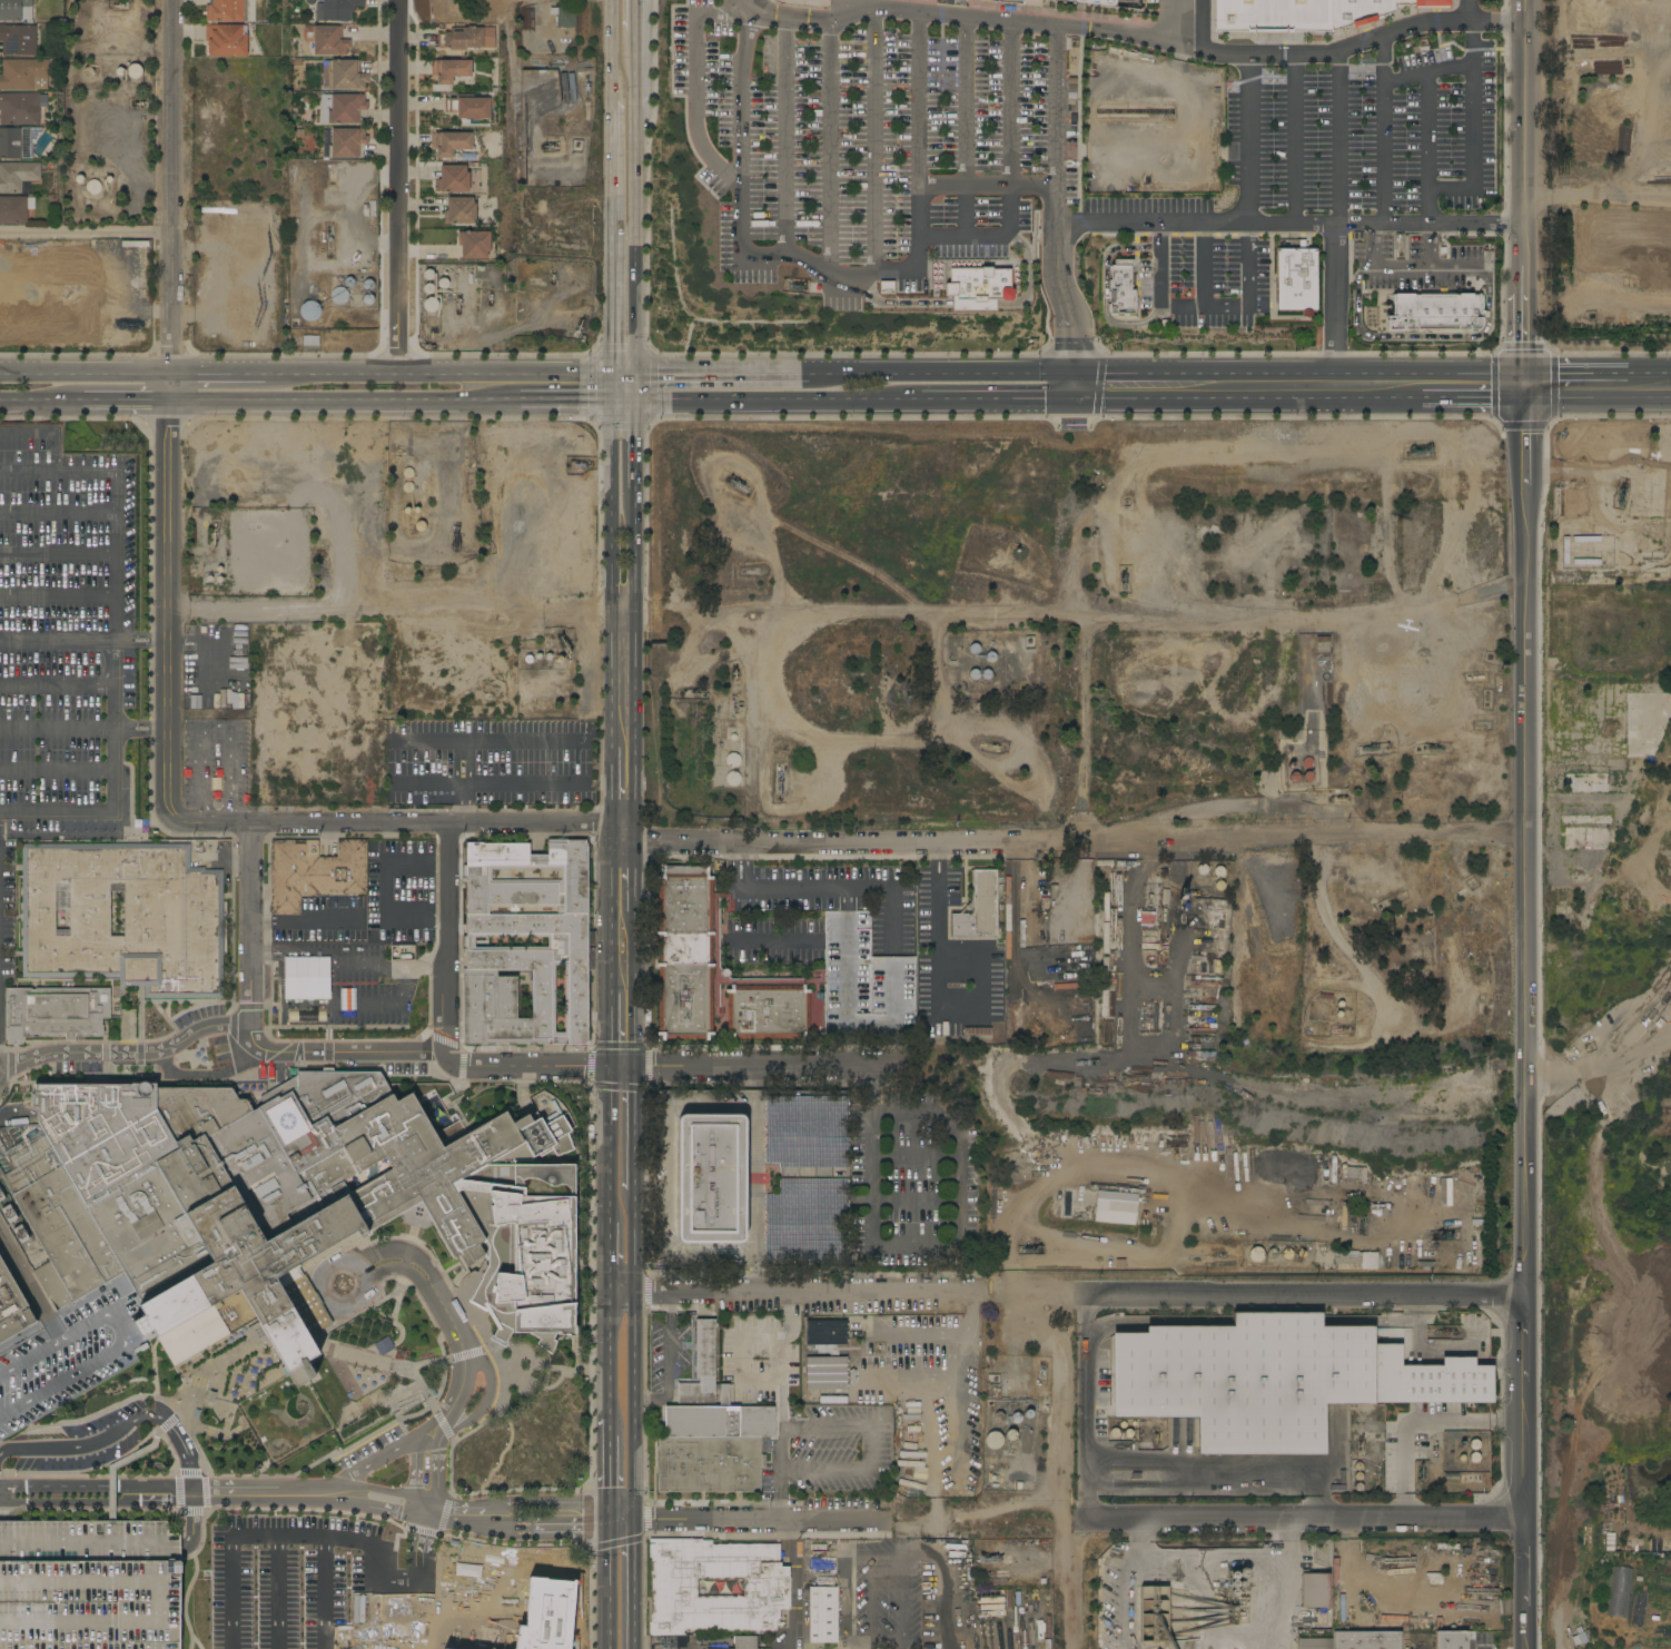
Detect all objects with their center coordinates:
building: (820, 0)
building: (1007, 1)
building: (1421, 3)
building: (1103, 4)
petroleum well: (121, 7)
building: (336, 9)
building: (16, 10)
building: (225, 10)
building: (250, 10)
building: (1357, 12)
road: (635, 16)
building: (1272, 16)
building: (565, 17)
building: (527, 19)
road: (1164, 21)
road: (1128, 36)
building: (466, 38)
building: (18, 40)
building: (227, 40)
building: (326, 40)
road: (612, 48)
building: (298, 62)
road: (635, 63)
building: (449, 70)
building: (135, 71)
storage tank: (135, 71)
building: (24, 75)
building: (343, 75)
road: (1428, 76)
petroleum well: (140, 105)
road: (744, 105)
building: (468, 107)
building: (343, 108)
building: (20, 109)
road: (1470, 115)
road: (920, 126)
road: (1057, 126)
building: (1148, 127)
road: (966, 128)
road: (785, 129)
parking lot: (1375, 130)
road: (1386, 132)
parking lot: (871, 140)
road: (876, 140)
road: (1341, 140)
road: (1296, 141)
building: (18, 142)
building: (347, 142)
building: (449, 142)
road: (1248, 142)
petroleum well: (552, 147)
road: (1427, 151)
road: (830, 156)
building: (1578, 160)
building: (1598, 160)
road: (635, 164)
building: (18, 175)
building: (453, 178)
building: (477, 178)
road: (988, 185)
building: (95, 186)
storage tank: (95, 186)
road: (1526, 186)
road: (171, 187)
road: (397, 187)
road: (1598, 197)
building: (31, 204)
building: (369, 209)
building: (13, 210)
building: (461, 210)
road: (1291, 226)
road: (86, 233)
road: (612, 235)
petroleum well: (329, 243)
building: (474, 244)
parking lot: (1426, 260)
road: (1456, 264)
road: (1205, 266)
road: (1402, 266)
petroleum well: (552, 277)
building: (1297, 279)
parking lot: (1215, 282)
road: (859, 287)
building: (887, 287)
road: (1247, 287)
building: (978, 288)
building: (1123, 288)
road: (1159, 289)
road: (1107, 293)
building: (339, 296)
storage tank: (339, 296)
road: (870, 296)
petroleum well: (490, 298)
road: (1336, 299)
road: (636, 303)
building: (429, 304)
storage tank: (429, 304)
petroleum well: (458, 305)
road: (991, 305)
building: (56, 306)
building: (309, 310)
storage tank: (309, 310)
road: (1067, 313)
building: (1436, 313)
petroleum well: (580, 328)
road: (1415, 337)
traffic signals: (1525, 372)
road: (1598, 373)
road: (437, 374)
traffic signals: (611, 374)
road: (623, 374)
traffic signals: (636, 374)
road: (681, 374)
road: (1170, 374)
road: (85, 375)
road: (217, 375)
road: (771, 375)
traffic signals: (1074, 375)
road: (1525, 386)
road: (611, 389)
road: (636, 389)
road: (31, 402)
road: (1299, 402)
traffic signals: (1525, 402)
road: (1598, 402)
road: (115, 403)
road: (998, 403)
traffic signals: (1075, 403)
road: (344, 404)
road: (779, 404)
road: (566, 405)
traffic signals: (612, 405)
road: (624, 405)
traffic signals: (636, 405)
road: (47, 434)
petroleum well: (1420, 447)
road: (636, 453)
petroleum well: (565, 466)
petroleum well: (743, 487)
petroleum well: (1620, 501)
road: (56, 517)
building: (1216, 520)
petroleum well: (217, 532)
petroleum well: (458, 541)
road: (56, 556)
petroleum well: (750, 573)
road: (613, 575)
petroleum well: (1124, 575)
road: (166, 593)
road: (56, 598)
road: (849, 615)
road: (112, 621)
parking lot: (69, 636)
road: (62, 640)
road: (127, 640)
building: (1323, 644)
petroleum well: (567, 648)
road: (635, 670)
road: (1081, 673)
petroleum well: (736, 675)
road: (56, 685)
petroleum well: (690, 708)
road: (215, 725)
road: (63, 728)
road: (127, 728)
road: (488, 743)
petroleum well: (992, 748)
petroleum well: (1438, 749)
building: (732, 760)
parking lot: (215, 764)
parking lot: (490, 766)
building: (733, 778)
road: (472, 783)
road: (487, 786)
road: (611, 786)
petroleum well: (781, 786)
road: (76, 811)
road: (404, 824)
road: (1304, 837)
road: (858, 840)
road: (931, 860)
road: (943, 860)
building: (1105, 863)
building: (1126, 865)
road: (729, 866)
road: (749, 866)
building: (314, 872)
road: (635, 877)
building: (1045, 881)
road: (843, 887)
building: (1103, 890)
building: (1044, 891)
building: (1054, 892)
petroleum well: (1193, 892)
building: (1165, 897)
building: (1045, 904)
road: (609, 908)
building: (978, 908)
building: (1024, 915)
building: (125, 917)
building: (1009, 919)
road: (308, 924)
road: (254, 925)
building: (1037, 927)
building: (1225, 928)
road: (451, 938)
building: (572, 942)
building: (1040, 945)
parking lot: (360, 948)
building: (402, 952)
building: (685, 952)
building: (1198, 958)
road: (937, 967)
building: (864, 980)
building: (1203, 984)
building: (1065, 986)
road: (635, 990)
building: (1203, 1008)
building: (768, 1011)
building: (56, 1013)
building: (144, 1021)
road: (1525, 1025)
building: (946, 1029)
road: (607, 1030)
building: (977, 1031)
building: (1202, 1031)
road: (291, 1053)
building: (1202, 1055)
road: (762, 1066)
building: (1059, 1075)
road: (4, 1082)
road: (866, 1089)
road: (876, 1090)
road: (691, 1107)
helipad: (287, 1122)
road: (634, 1128)
road: (609, 1146)
building: (1303, 1172)
building: (1334, 1172)
building: (1319, 1173)
building: (1353, 1173)
building: (711, 1178)
building: (1133, 1184)
building: (1087, 1187)
building: (1141, 1187)
building: (278, 1204)
building: (1116, 1208)
petroleum well: (1444, 1235)
road: (948, 1245)
petroleum well: (1031, 1250)
building: (1257, 1254)
storage tank: (1257, 1254)
building: (1273, 1254)
storage tank: (1273, 1254)
building: (1288, 1254)
storage tank: (1288, 1254)
building: (1302, 1254)
storage tank: (1302, 1254)
road: (609, 1258)
building: (1356, 1261)
building: (1395, 1261)
building: (1384, 1262)
building: (1425, 1265)
road: (322, 1277)
road: (432, 1287)
road: (795, 1293)
road: (1306, 1296)
building: (12, 1306)
building: (825, 1333)
petroleum well: (1453, 1336)
road: (963, 1344)
building: (385, 1345)
road: (635, 1353)
road: (781, 1356)
road: (738, 1357)
road: (453, 1359)
building: (952, 1360)
road: (668, 1361)
building: (825, 1363)
building: (61, 1364)
parking lot: (61, 1364)
road: (607, 1365)
building: (702, 1366)
road: (152, 1370)
building: (883, 1372)
petroleum well: (1044, 1378)
building: (1427, 1379)
building: (814, 1380)
building: (1245, 1380)
building: (881, 1385)
road: (425, 1390)
building: (831, 1390)
building: (330, 1391)
road: (147, 1396)
road: (1087, 1405)
building: (916, 1411)
flagpole: (422, 1418)
road: (382, 1419)
building: (917, 1420)
road: (1417, 1422)
road: (166, 1424)
road: (821, 1425)
road: (938, 1428)
road: (121, 1429)
road: (416, 1442)
road: (870, 1446)
building: (713, 1448)
building: (908, 1453)
building: (909, 1459)
road: (1230, 1462)
road: (1061, 1463)
road: (112, 1467)
road: (609, 1470)
road: (821, 1470)
road: (436, 1471)
road: (779, 1472)
road: (416, 1475)
road: (96, 1487)
road: (238, 1492)
road: (324, 1494)
road: (156, 1500)
road: (513, 1500)
road: (59, 1501)
road: (568, 1502)
traffic signals: (609, 1502)
road: (396, 1504)
road: (464, 1505)
road: (1003, 1508)
road: (512, 1509)
road: (622, 1510)
road: (609, 1515)
road: (923, 1515)
traffic signals: (635, 1519)
road: (759, 1519)
road: (1307, 1519)
road: (522, 1520)
road: (191, 1523)
road: (622, 1523)
road: (466, 1524)
road: (521, 1528)
road: (573, 1529)
traffic signals: (609, 1529)
road: (521, 1537)
road: (298, 1541)
road: (90, 1542)
road: (888, 1557)
petroleum well: (988, 1559)
parking lot: (339, 1576)
road: (870, 1578)
road: (419, 1579)
road: (28, 1583)
road: (141, 1583)
road: (635, 1583)
road: (792, 1583)
building: (1233, 1583)
building: (89, 1584)
parking lot: (89, 1584)
building: (674, 1588)
road: (609, 1589)
building: (1315, 1590)
building: (1619, 1592)
road: (159, 1593)
road: (279, 1594)
road: (330, 1594)
building: (517, 1598)
road: (902, 1602)
building: (1153, 1613)
building: (823, 1615)
road: (24, 1623)
road: (83, 1623)
road: (149, 1625)
building: (863, 1628)
building: (1367, 1640)
building: (1451, 1640)
building: (745, 1642)
building: (1315, 1643)
road: (159, 1648)

